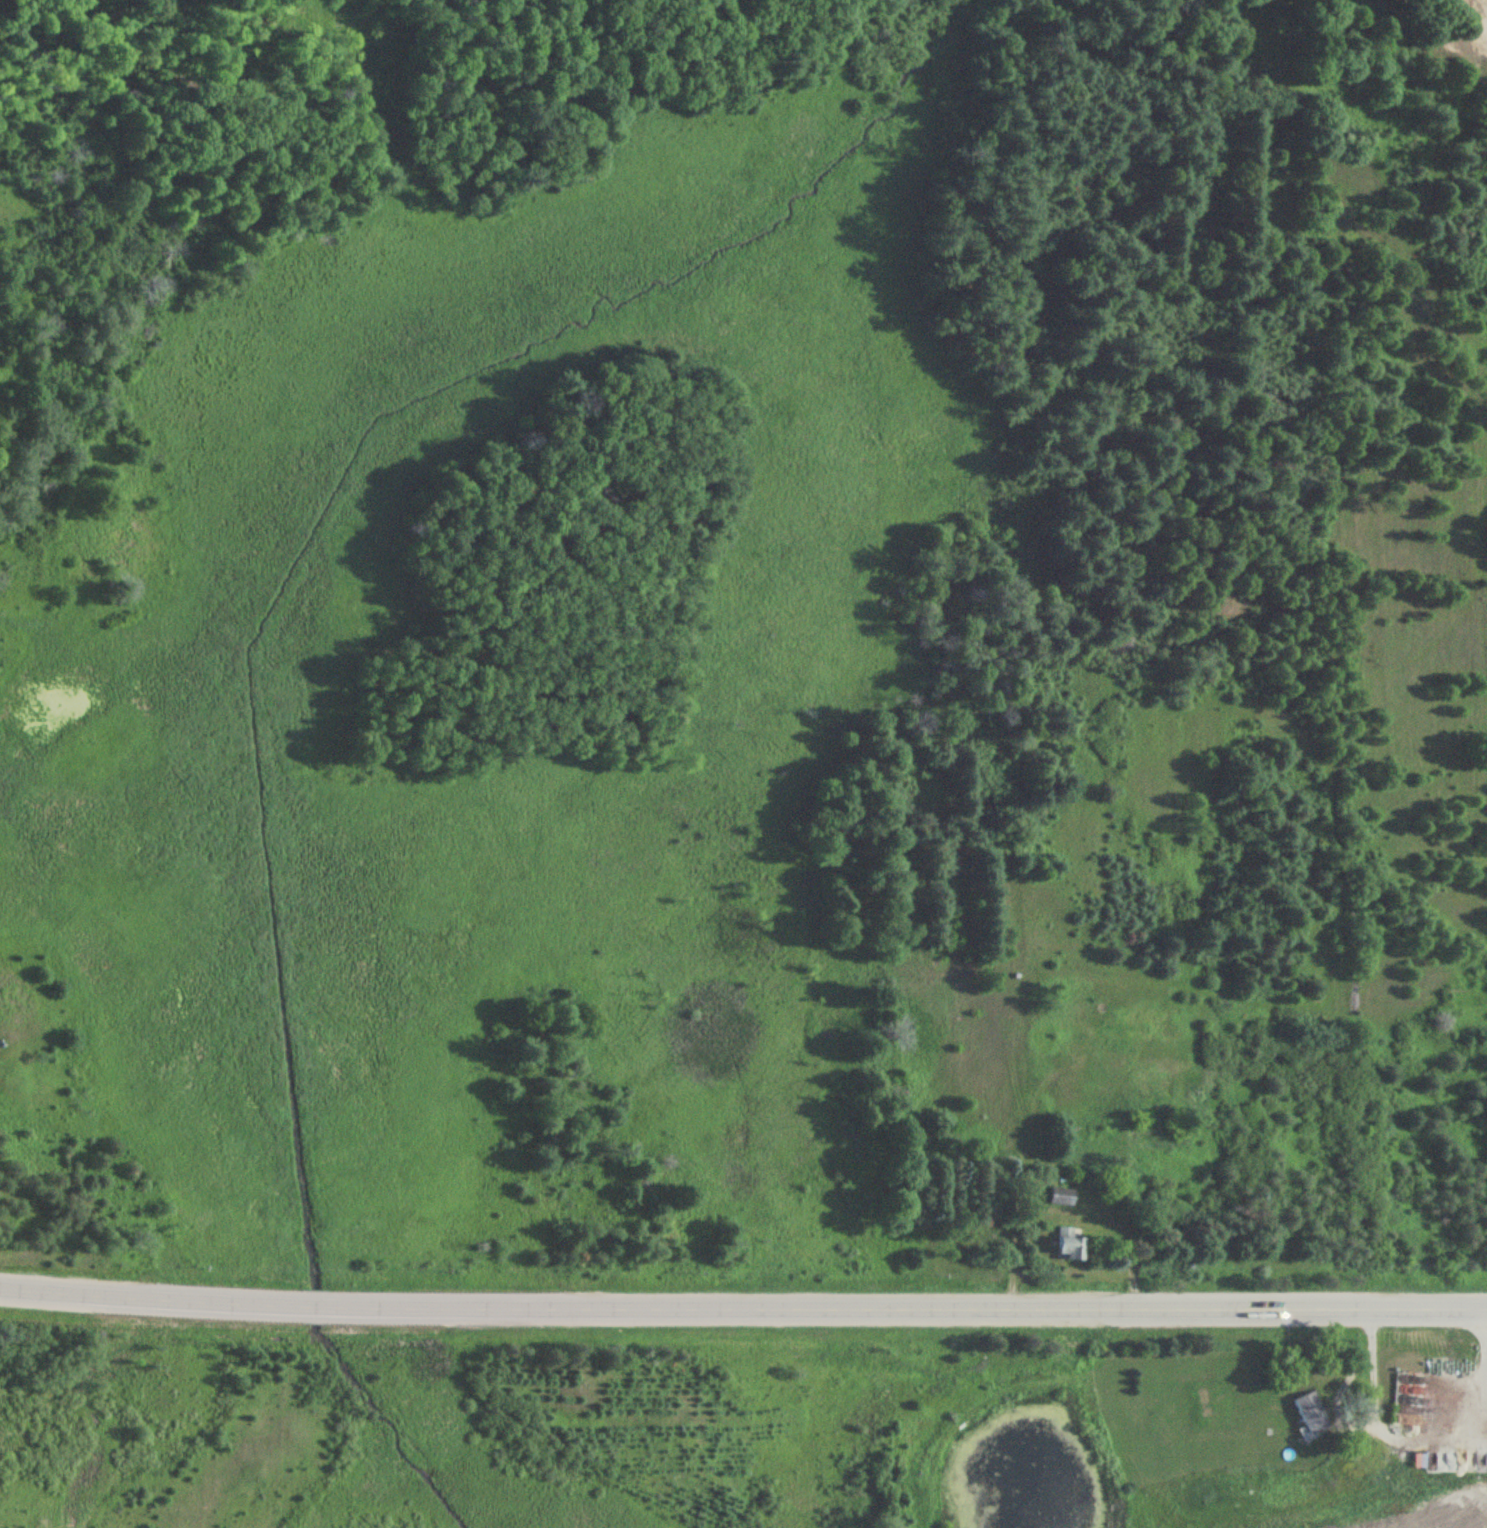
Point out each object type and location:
building: (1059, 1196)
building: (1069, 1243)
road: (743, 1308)
building: (1309, 1411)
road: (1370, 1427)

